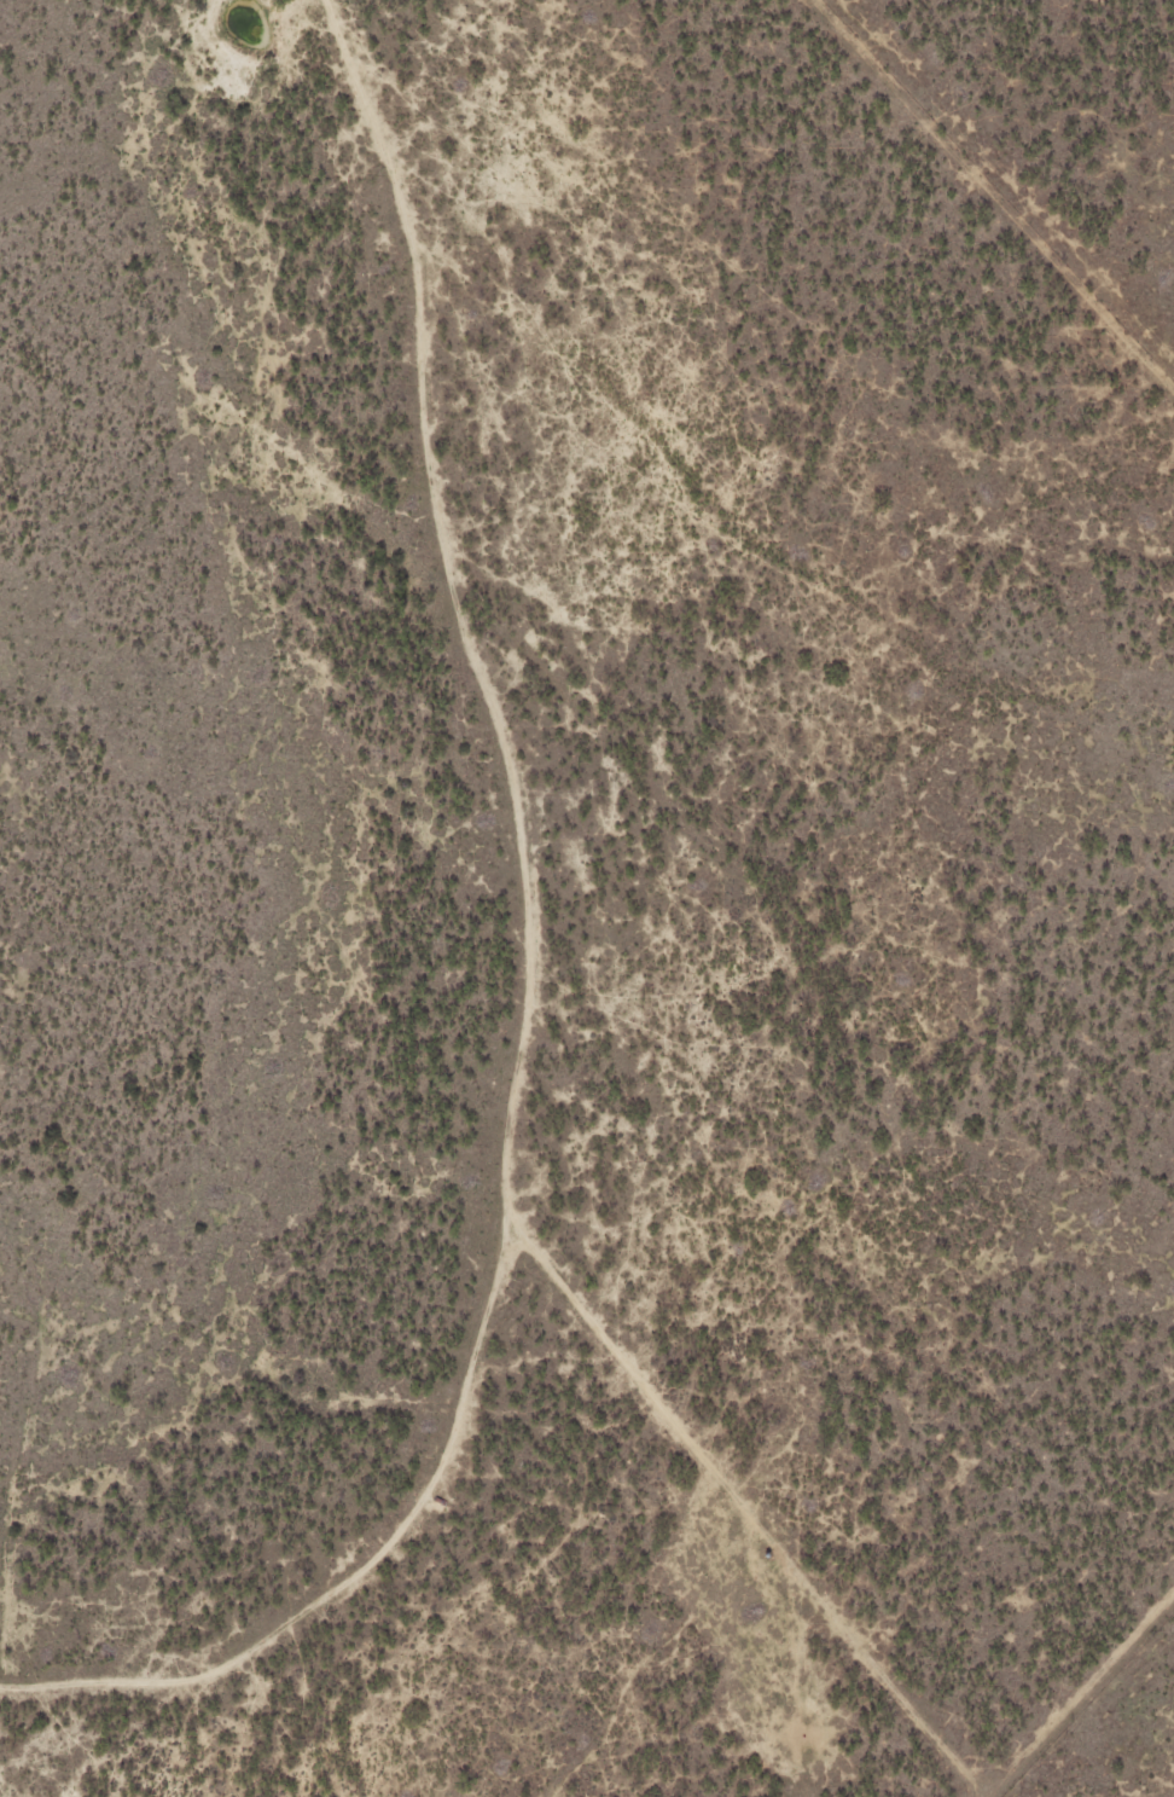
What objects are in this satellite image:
road: (687, 463)
road: (524, 1103)

